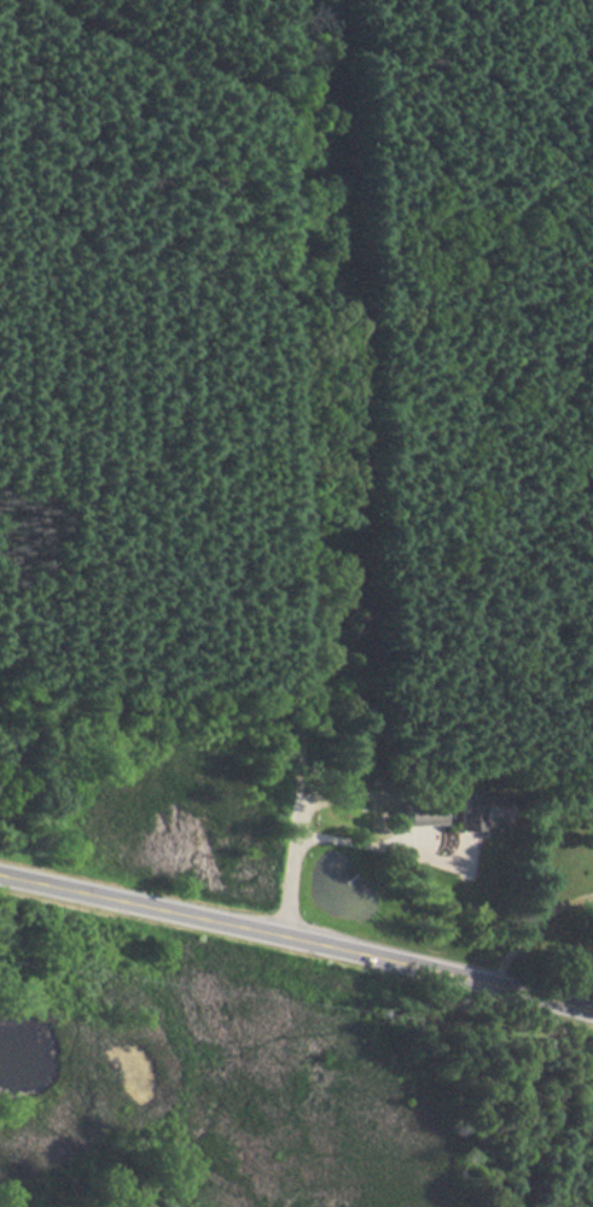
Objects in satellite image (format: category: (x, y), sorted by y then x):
road: (167, 68)
road: (331, 473)
building: (420, 814)
building: (479, 814)
road: (342, 841)
road: (527, 921)
road: (296, 945)

